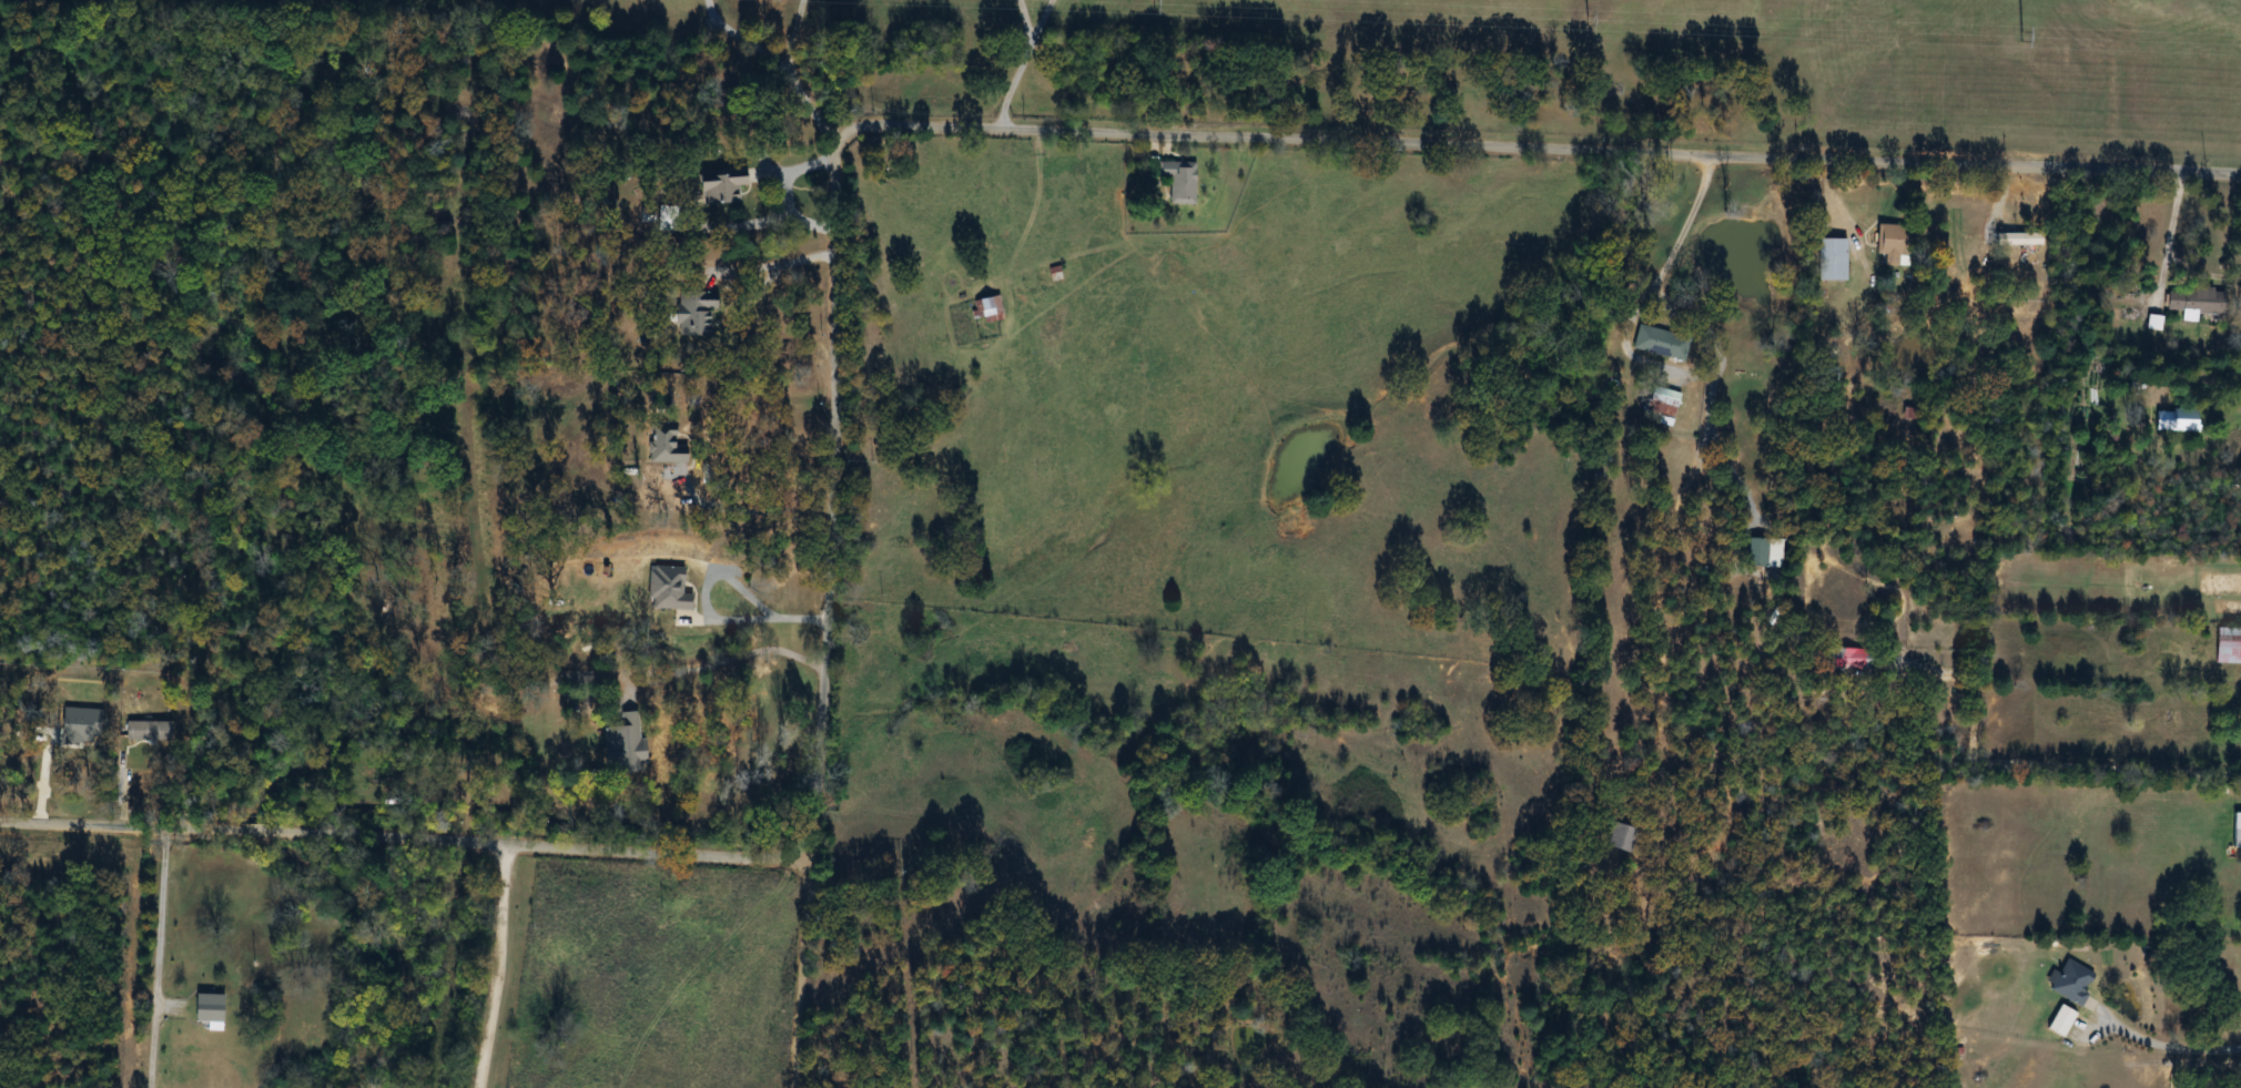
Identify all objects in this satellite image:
power tower: (1152, 4)
road: (1022, 21)
power tower: (1584, 21)
road: (793, 33)
road: (743, 35)
power tower: (2019, 38)
road: (1021, 62)
road: (814, 104)
road: (1545, 149)
road: (791, 170)
building: (1175, 182)
building: (719, 186)
road: (780, 214)
building: (2016, 238)
road: (2171, 241)
building: (1890, 245)
building: (1829, 260)
road: (738, 268)
building: (1052, 275)
road: (1654, 293)
building: (2194, 302)
building: (987, 309)
building: (692, 314)
building: (1655, 342)
road: (2193, 387)
building: (1666, 404)
building: (2174, 420)
building: (665, 443)
road: (827, 494)
road: (749, 507)
building: (1757, 552)
road: (720, 580)
building: (2227, 647)
building: (1842, 660)
road: (719, 661)
building: (151, 731)
road: (2032, 764)
building: (2235, 832)
building: (1623, 838)
road: (398, 842)
road: (176, 959)
road: (490, 967)
road: (810, 970)
building: (2068, 983)
building: (214, 1007)
building: (2059, 1021)
road: (2160, 1047)

